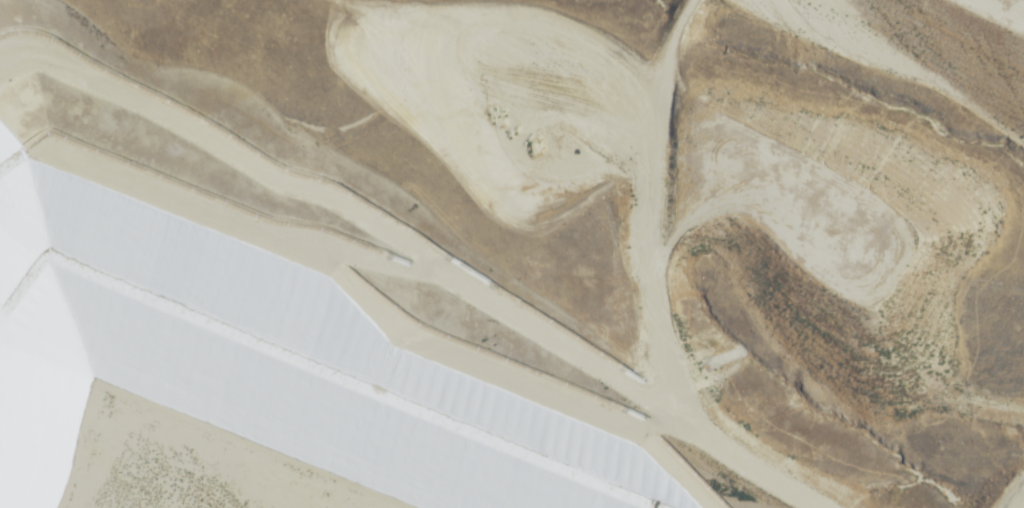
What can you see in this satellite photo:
road: (683, 7)
road: (676, 24)
road: (655, 270)
landfill: (157, 448)

